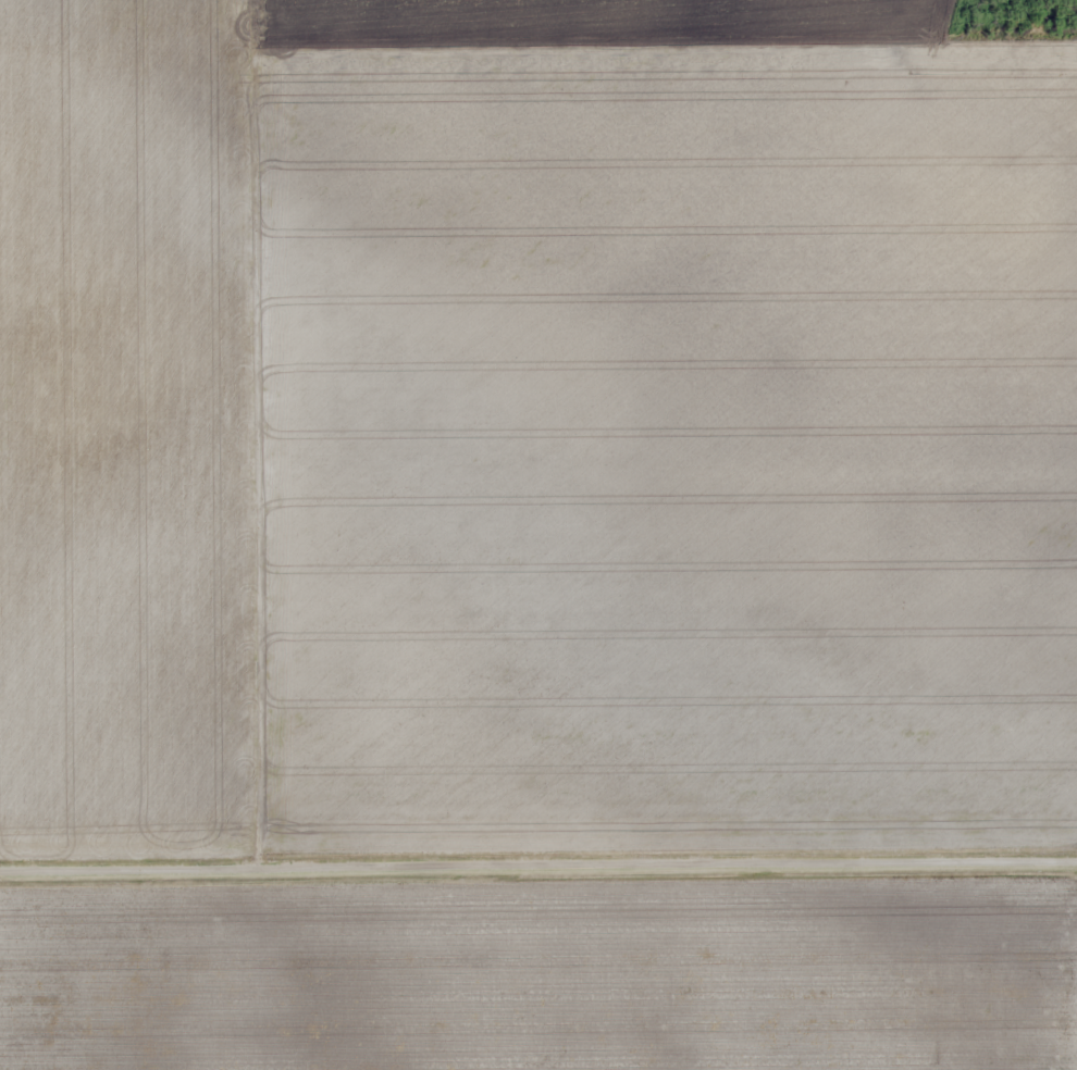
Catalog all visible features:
road: (538, 856)

